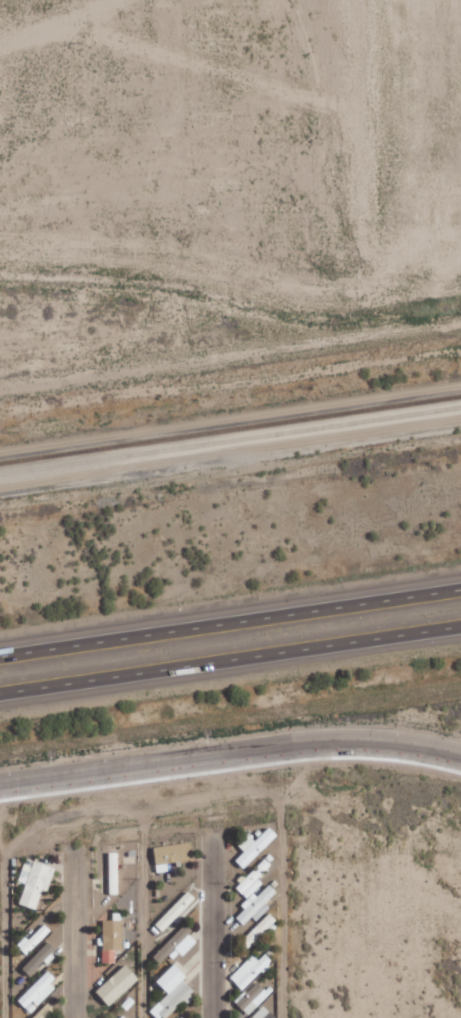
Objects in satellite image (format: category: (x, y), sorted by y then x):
railway: (230, 426)
railway: (230, 441)
road: (231, 482)
road: (230, 622)
road: (230, 659)
road: (230, 751)
building: (254, 847)
building: (172, 855)
building: (113, 873)
building: (254, 877)
building: (35, 881)
building: (255, 905)
building: (175, 911)
road: (211, 929)
building: (256, 932)
building: (33, 939)
road: (68, 939)
building: (112, 939)
building: (175, 945)
building: (40, 958)
building: (250, 970)
building: (117, 985)
building: (38, 991)
building: (171, 992)
building: (253, 997)
building: (45, 1011)
building: (263, 1013)
building: (123, 1016)
building: (180, 1017)

